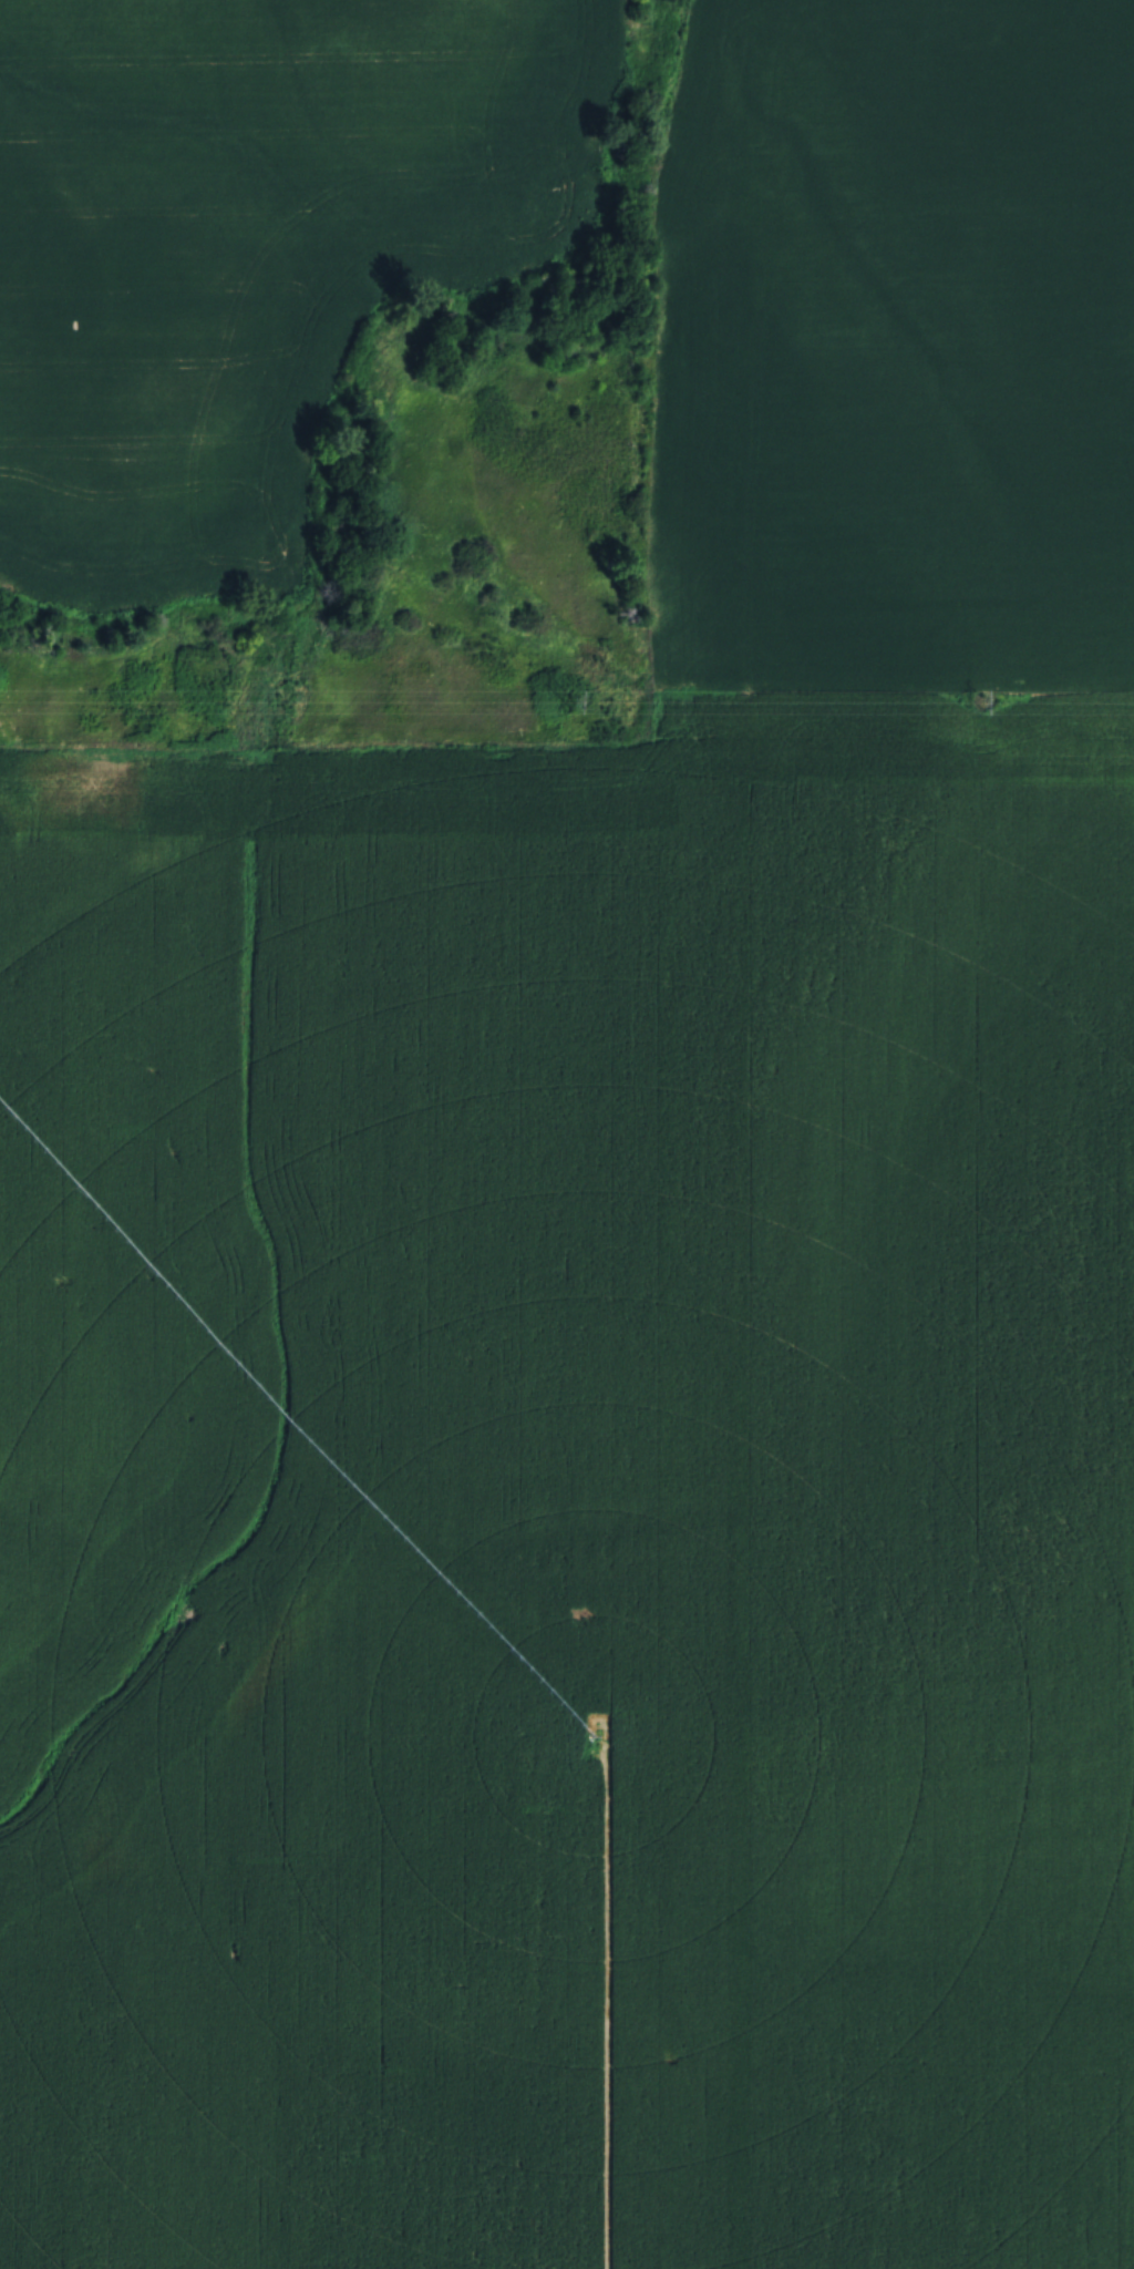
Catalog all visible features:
power tower: (569, 698)
power tower: (978, 698)

